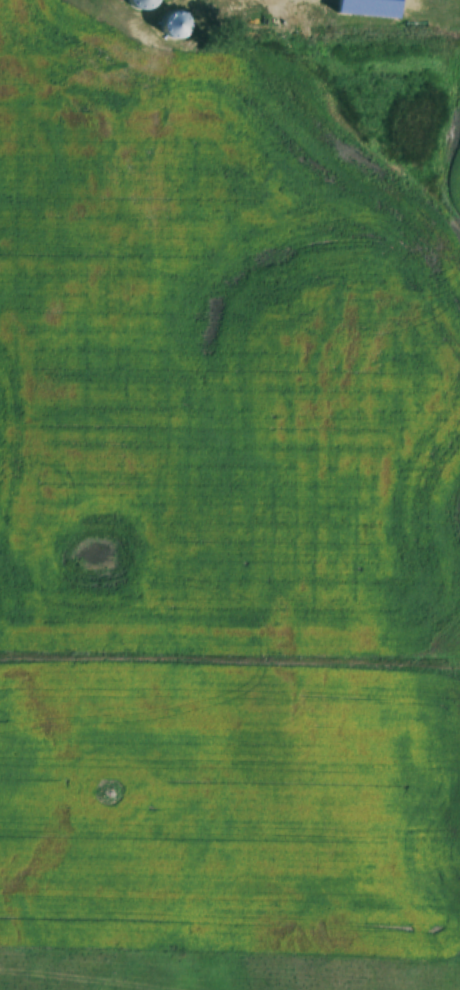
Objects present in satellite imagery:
building: (138, 2)

